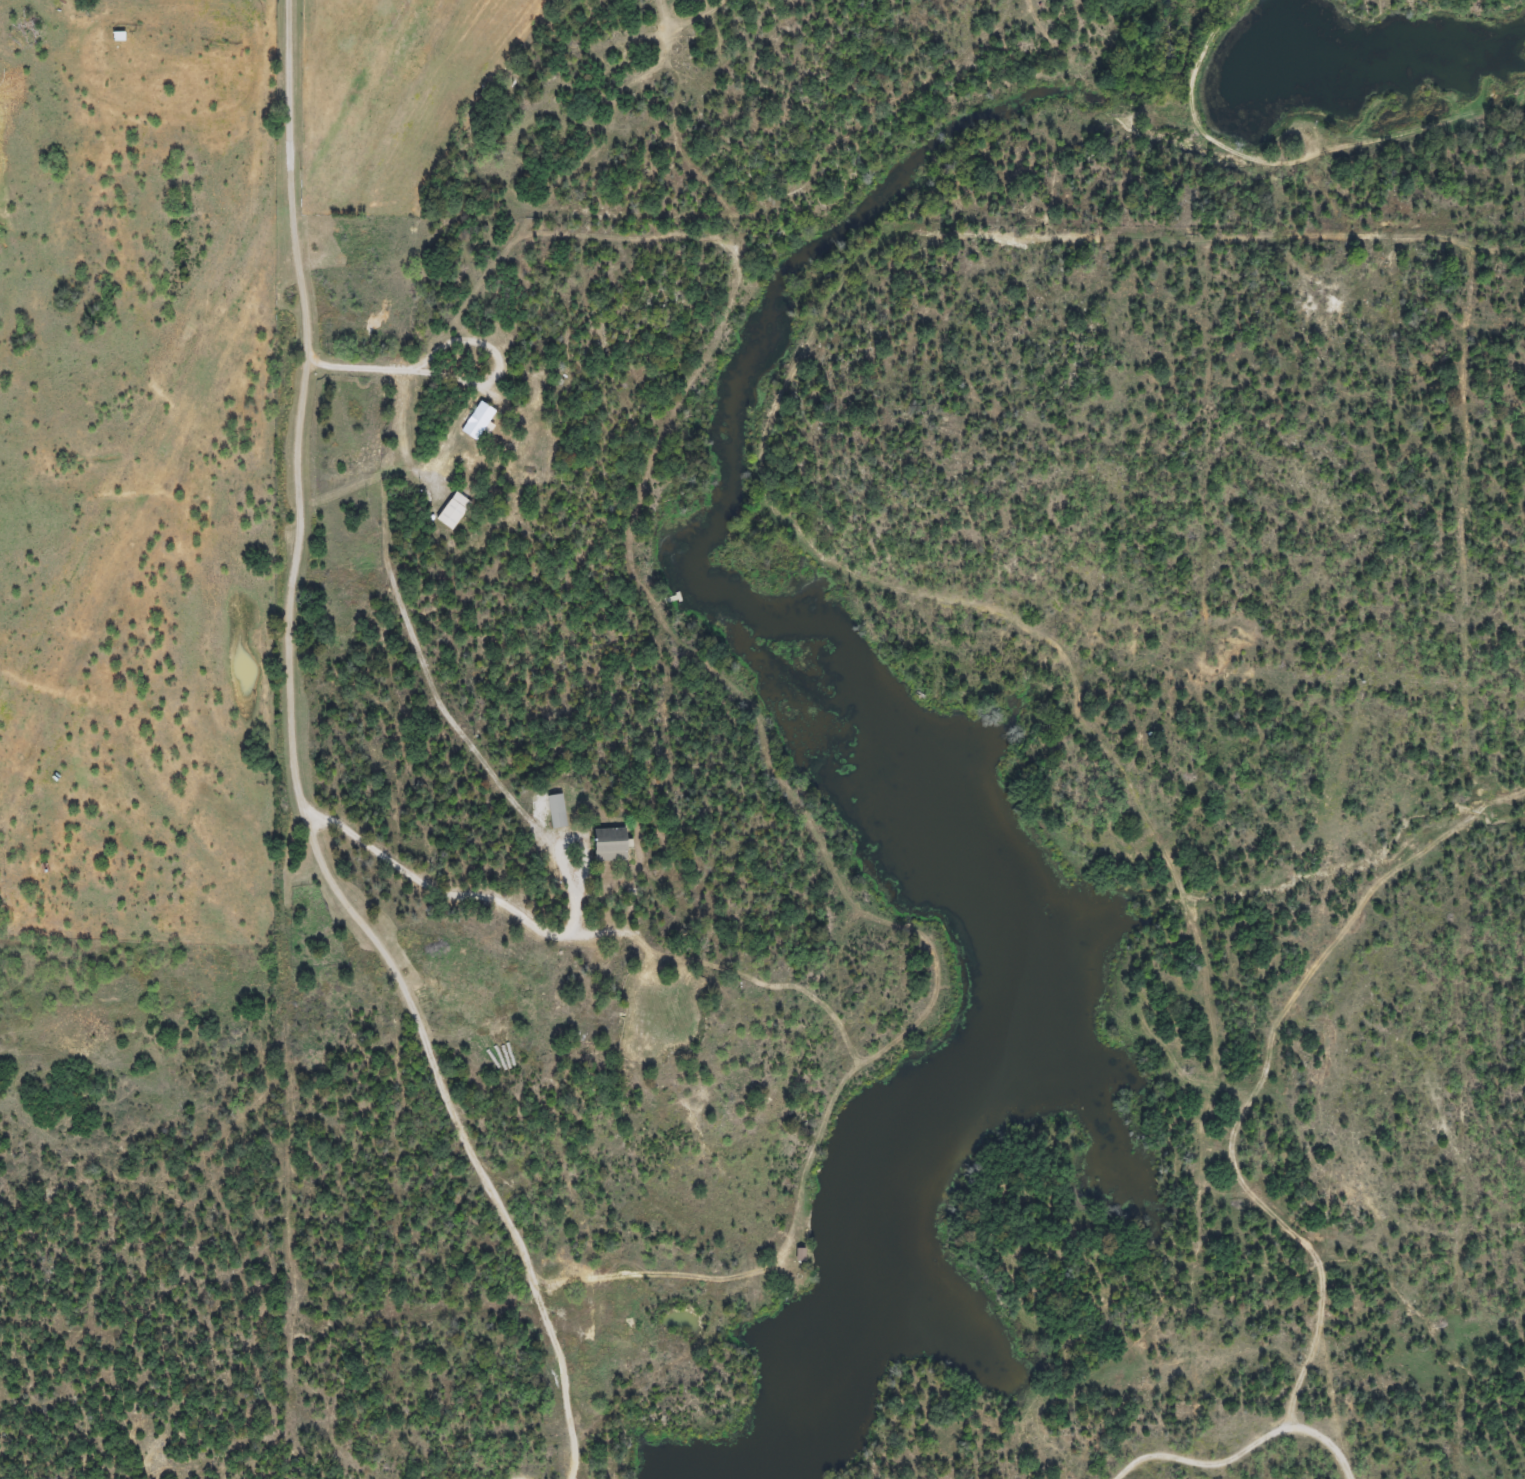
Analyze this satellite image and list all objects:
road: (291, 180)
building: (474, 422)
building: (553, 811)
building: (604, 846)
road: (560, 938)

